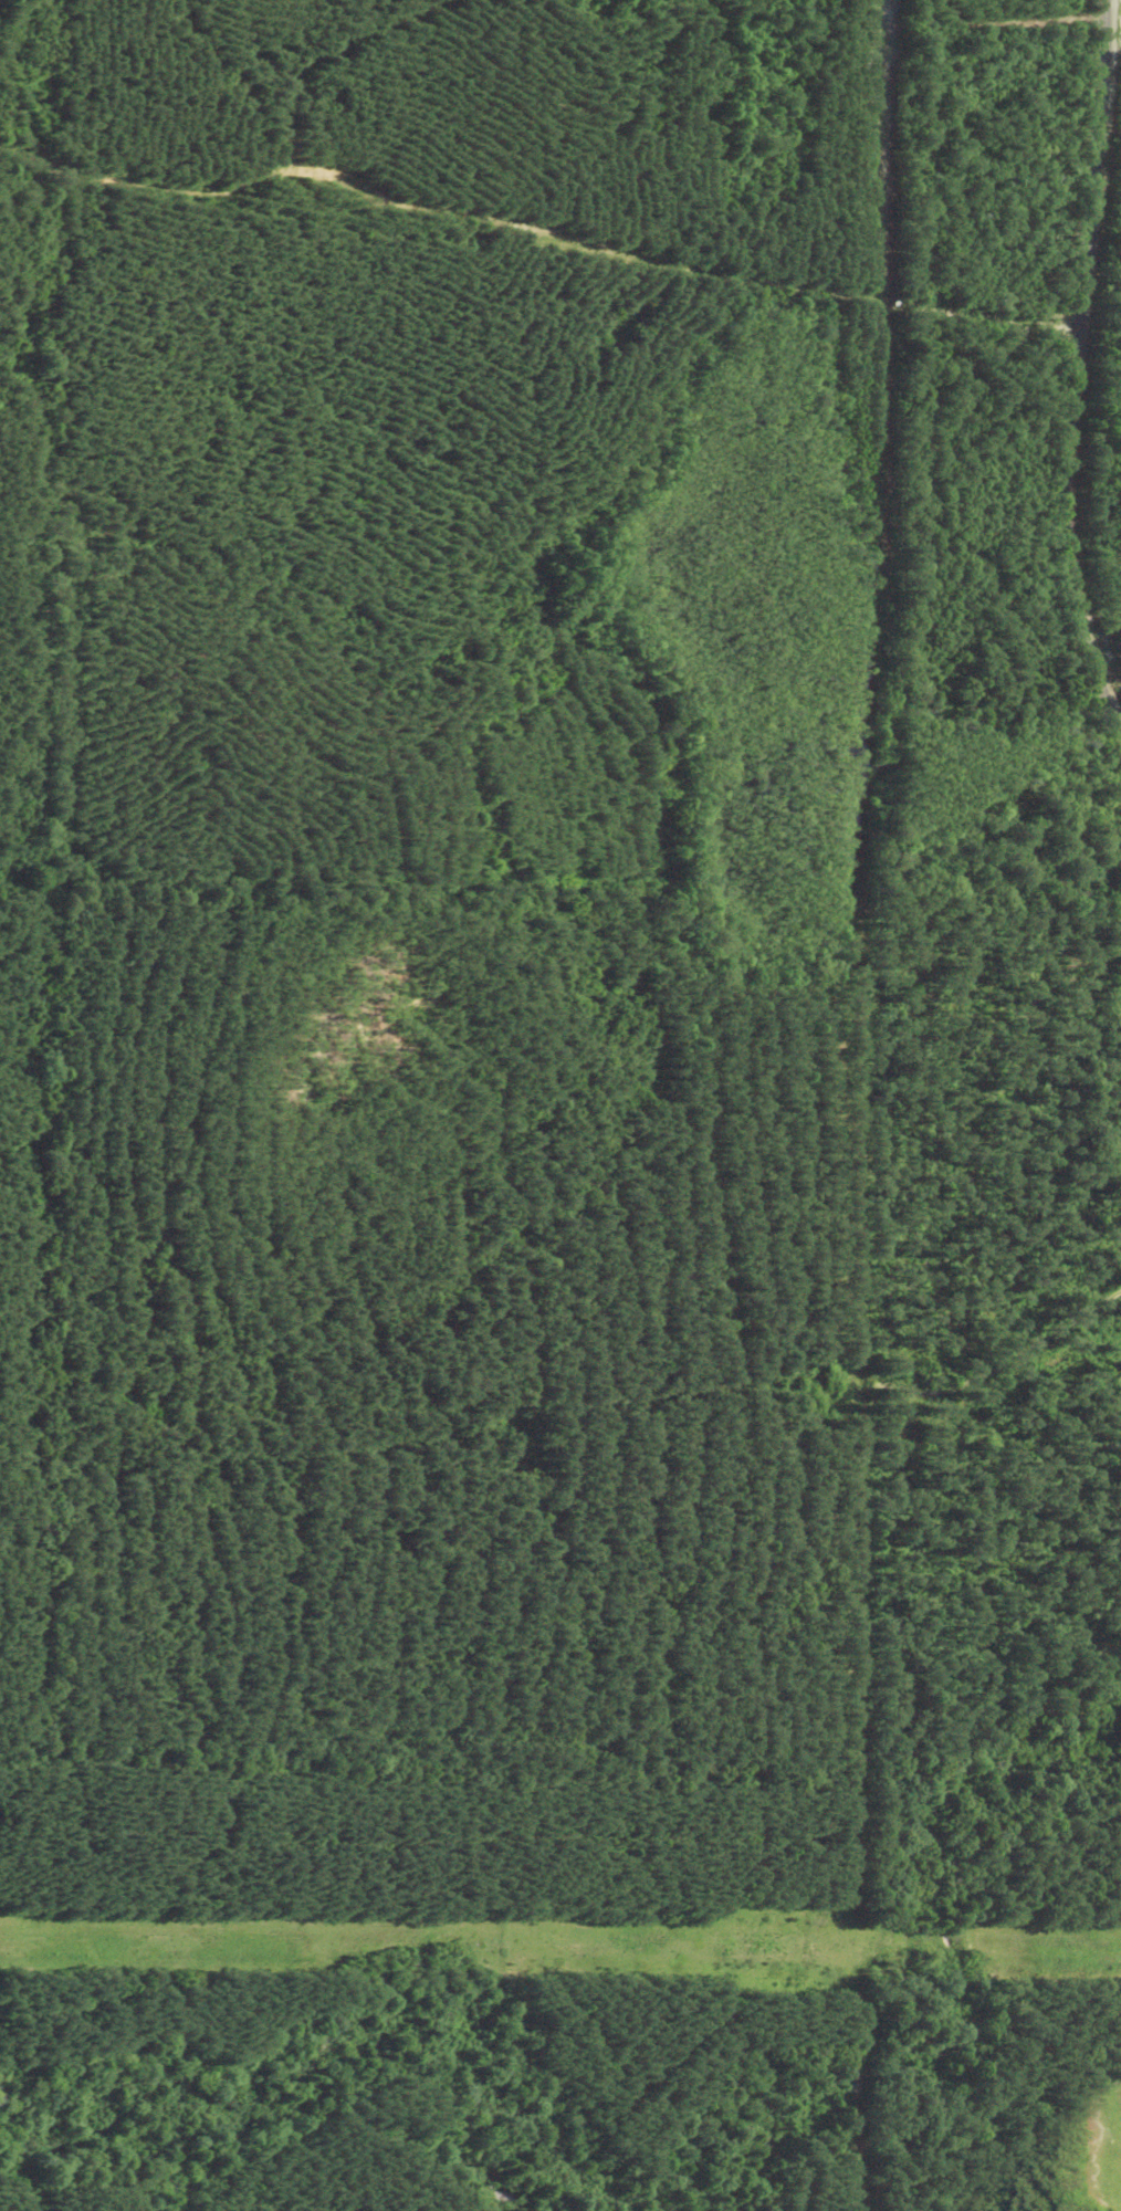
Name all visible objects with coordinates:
road: (1073, 374)

